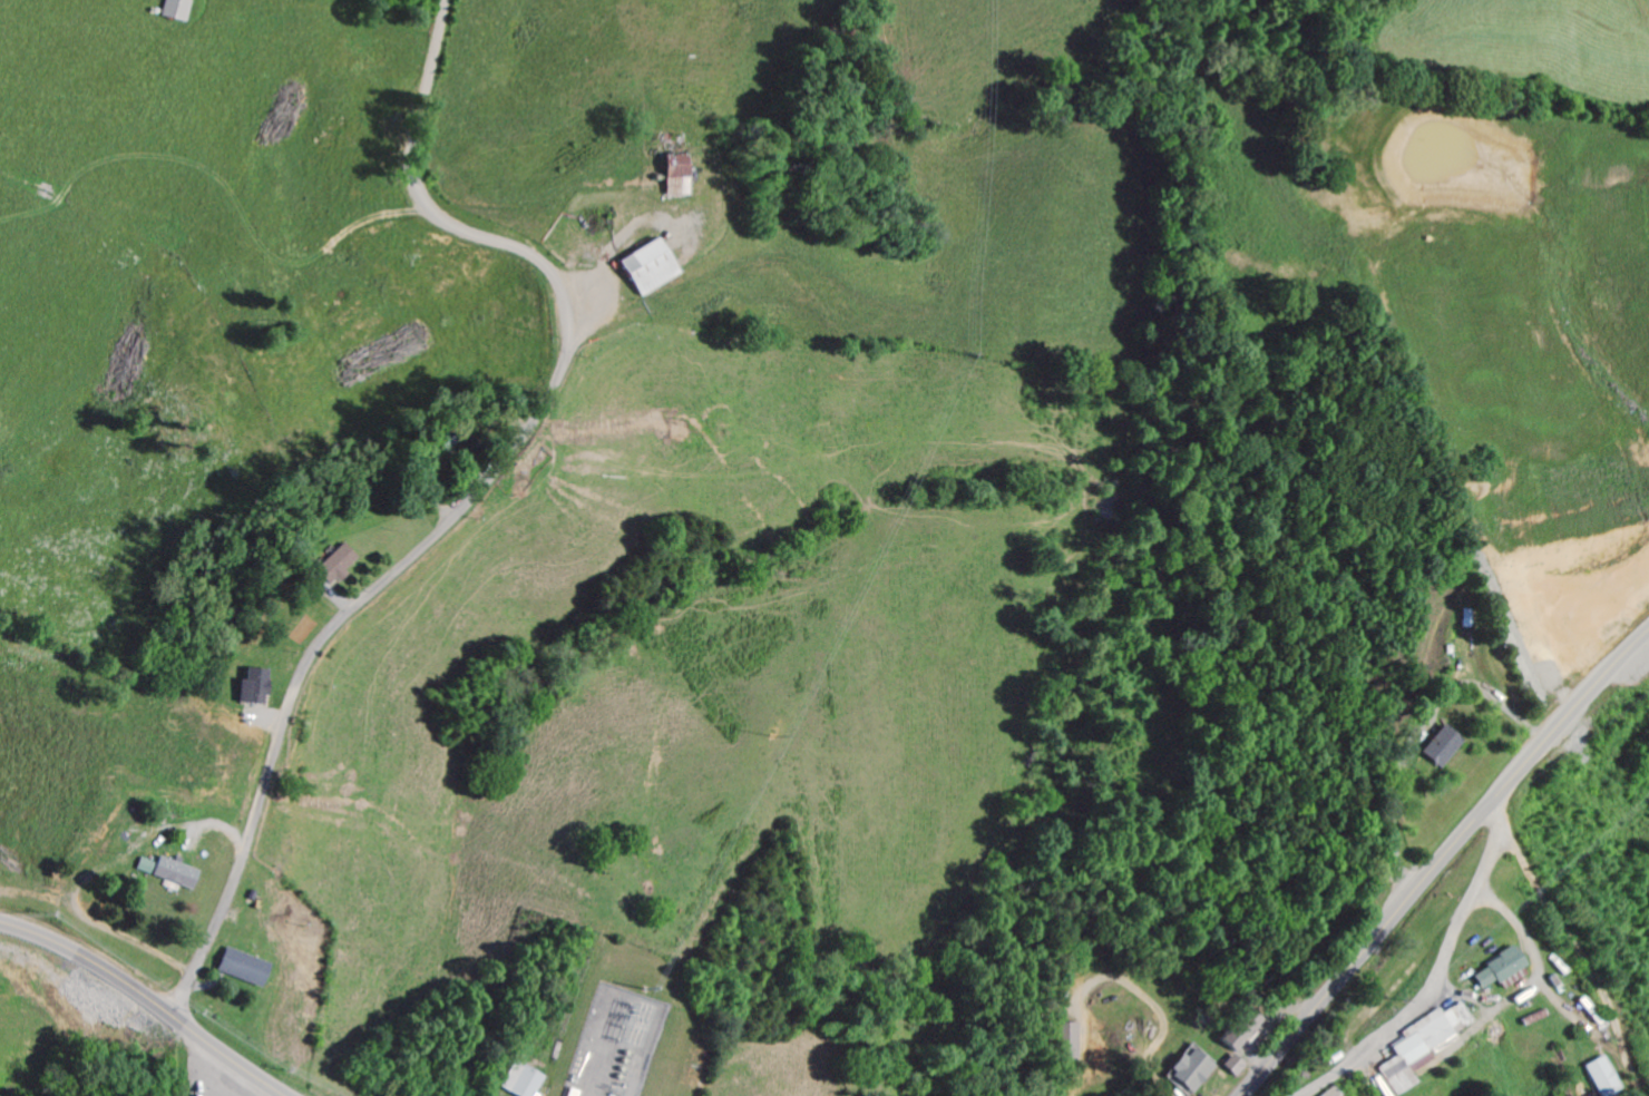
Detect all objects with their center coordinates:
building: (170, 10)
building: (664, 176)
building: (635, 270)
road: (498, 476)
building: (324, 567)
building: (245, 689)
building: (1436, 748)
road: (1441, 860)
building: (165, 875)
building: (236, 969)
building: (1494, 971)
road: (1441, 977)
road: (148, 998)
power substation: (613, 1038)
building: (1062, 1044)
building: (1229, 1068)
building: (1185, 1071)
building: (1599, 1079)
building: (516, 1083)
building: (1326, 1094)

